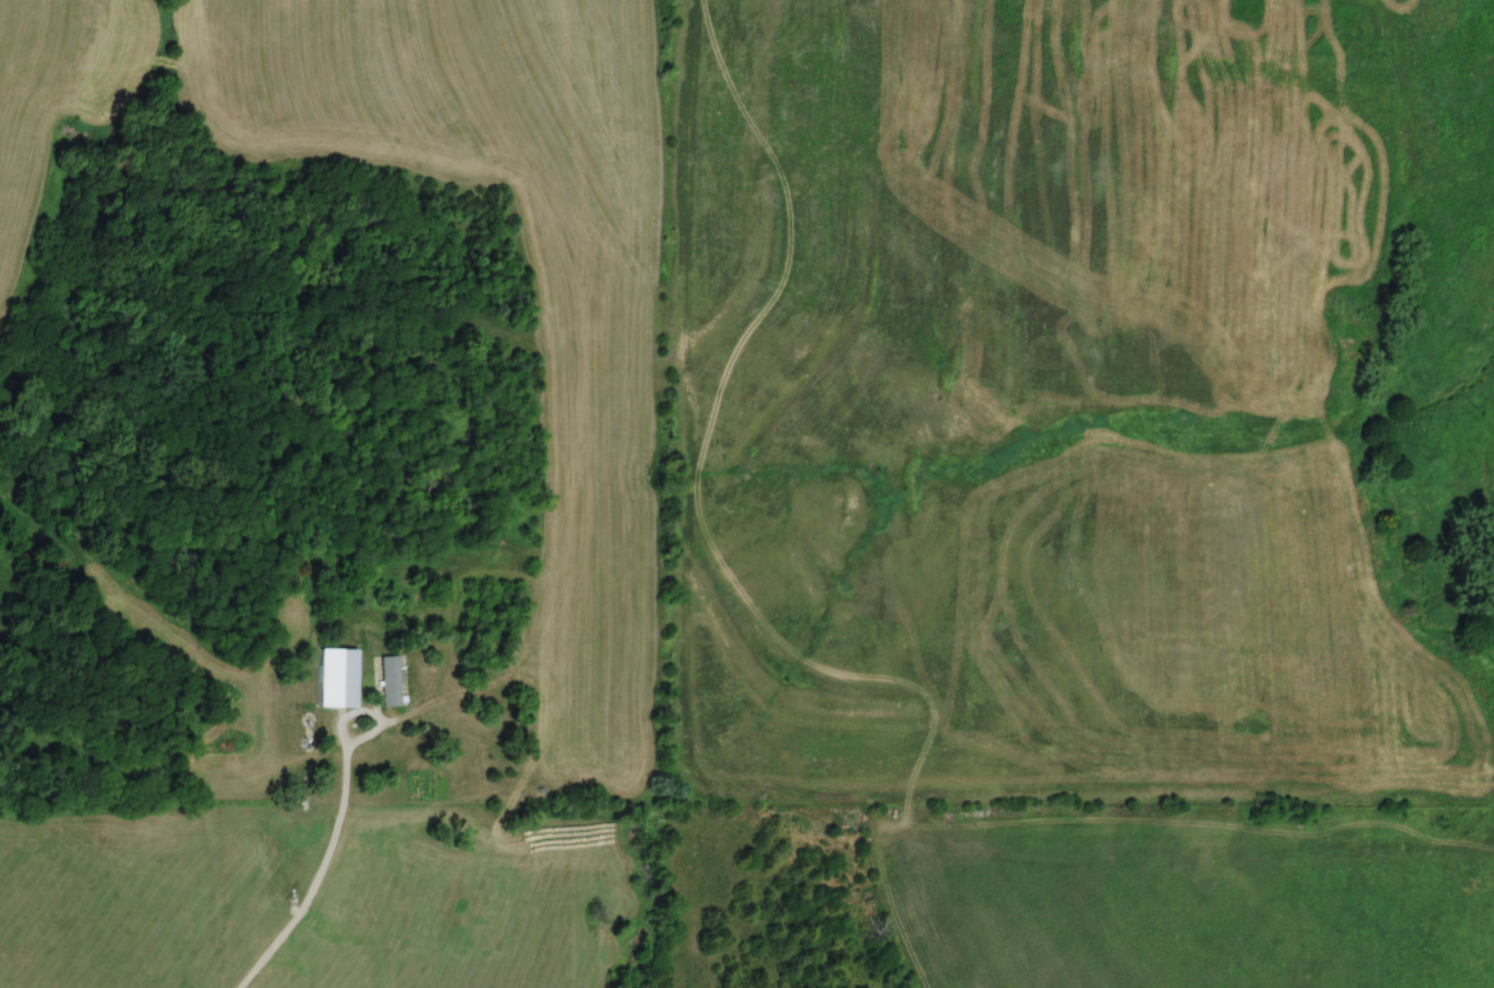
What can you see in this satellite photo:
building: (338, 679)
building: (390, 681)
road: (353, 720)
road: (318, 878)

